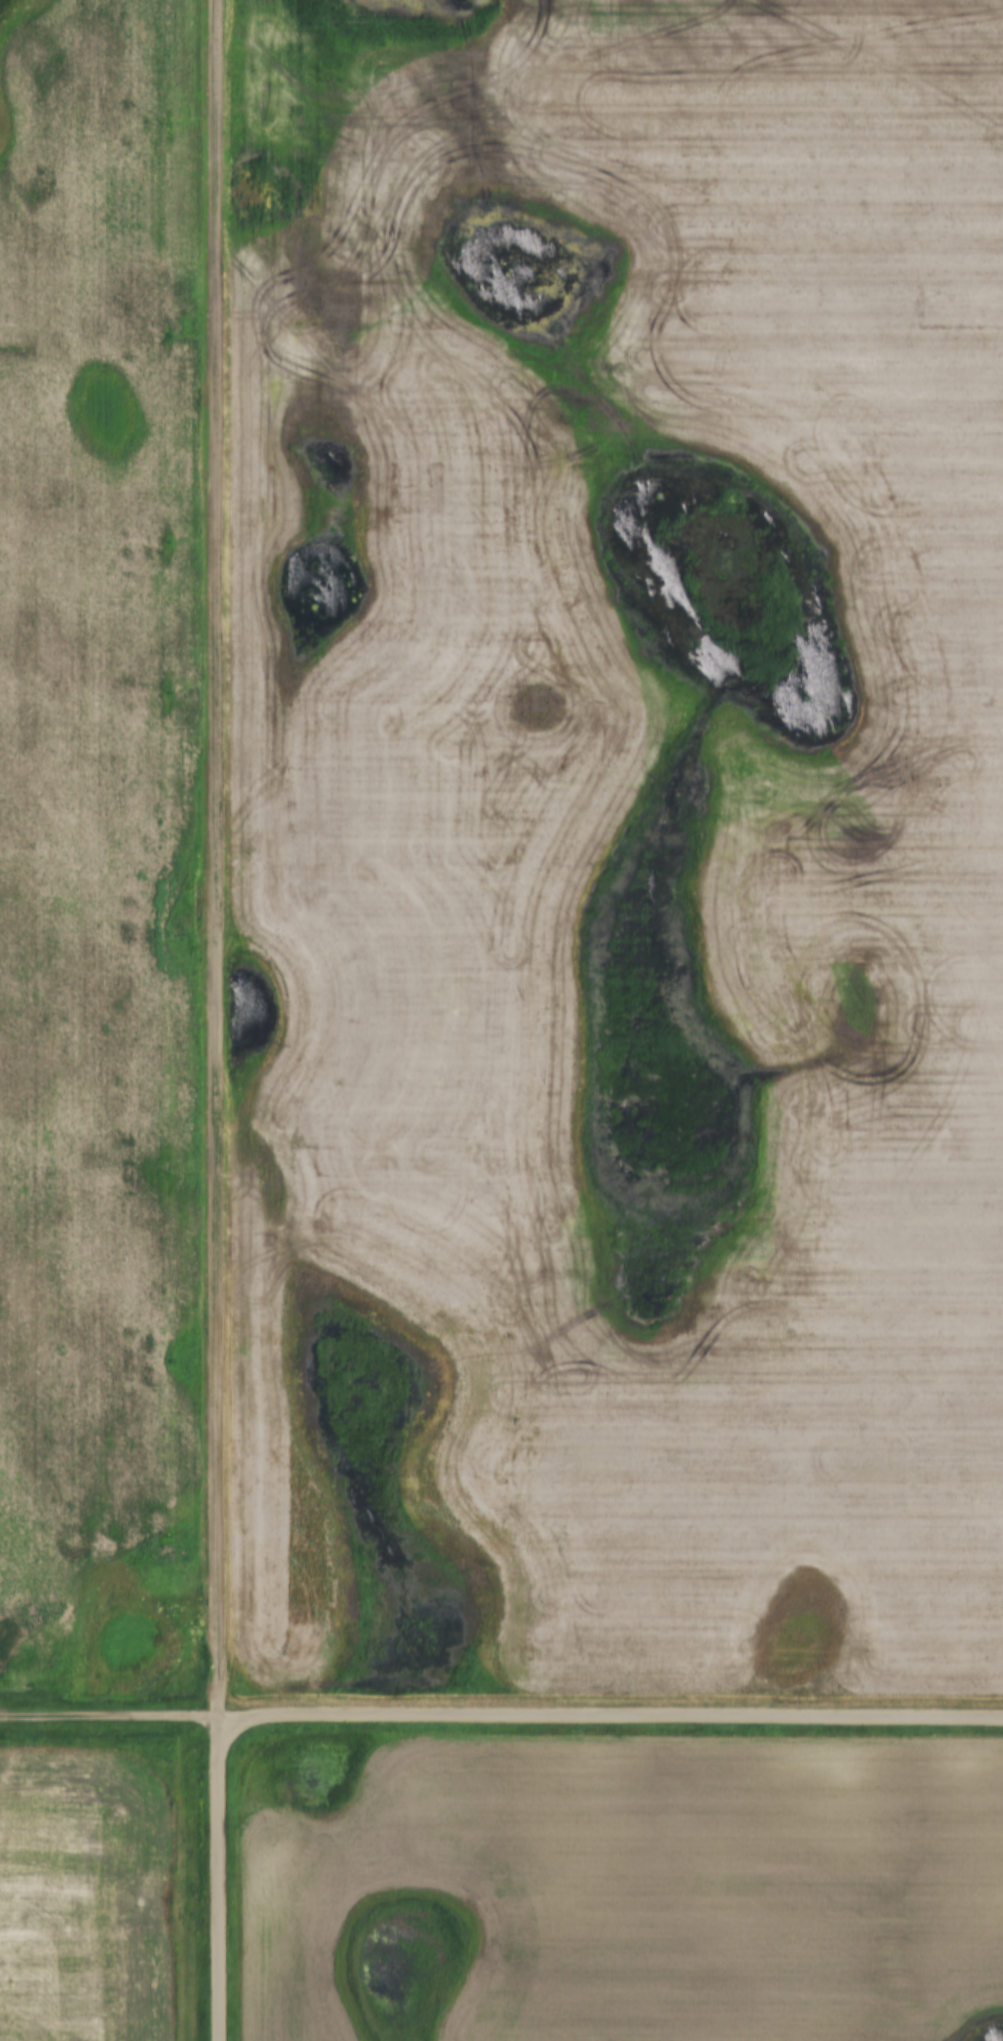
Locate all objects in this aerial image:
road: (214, 1020)
road: (107, 1715)
road: (608, 1718)

